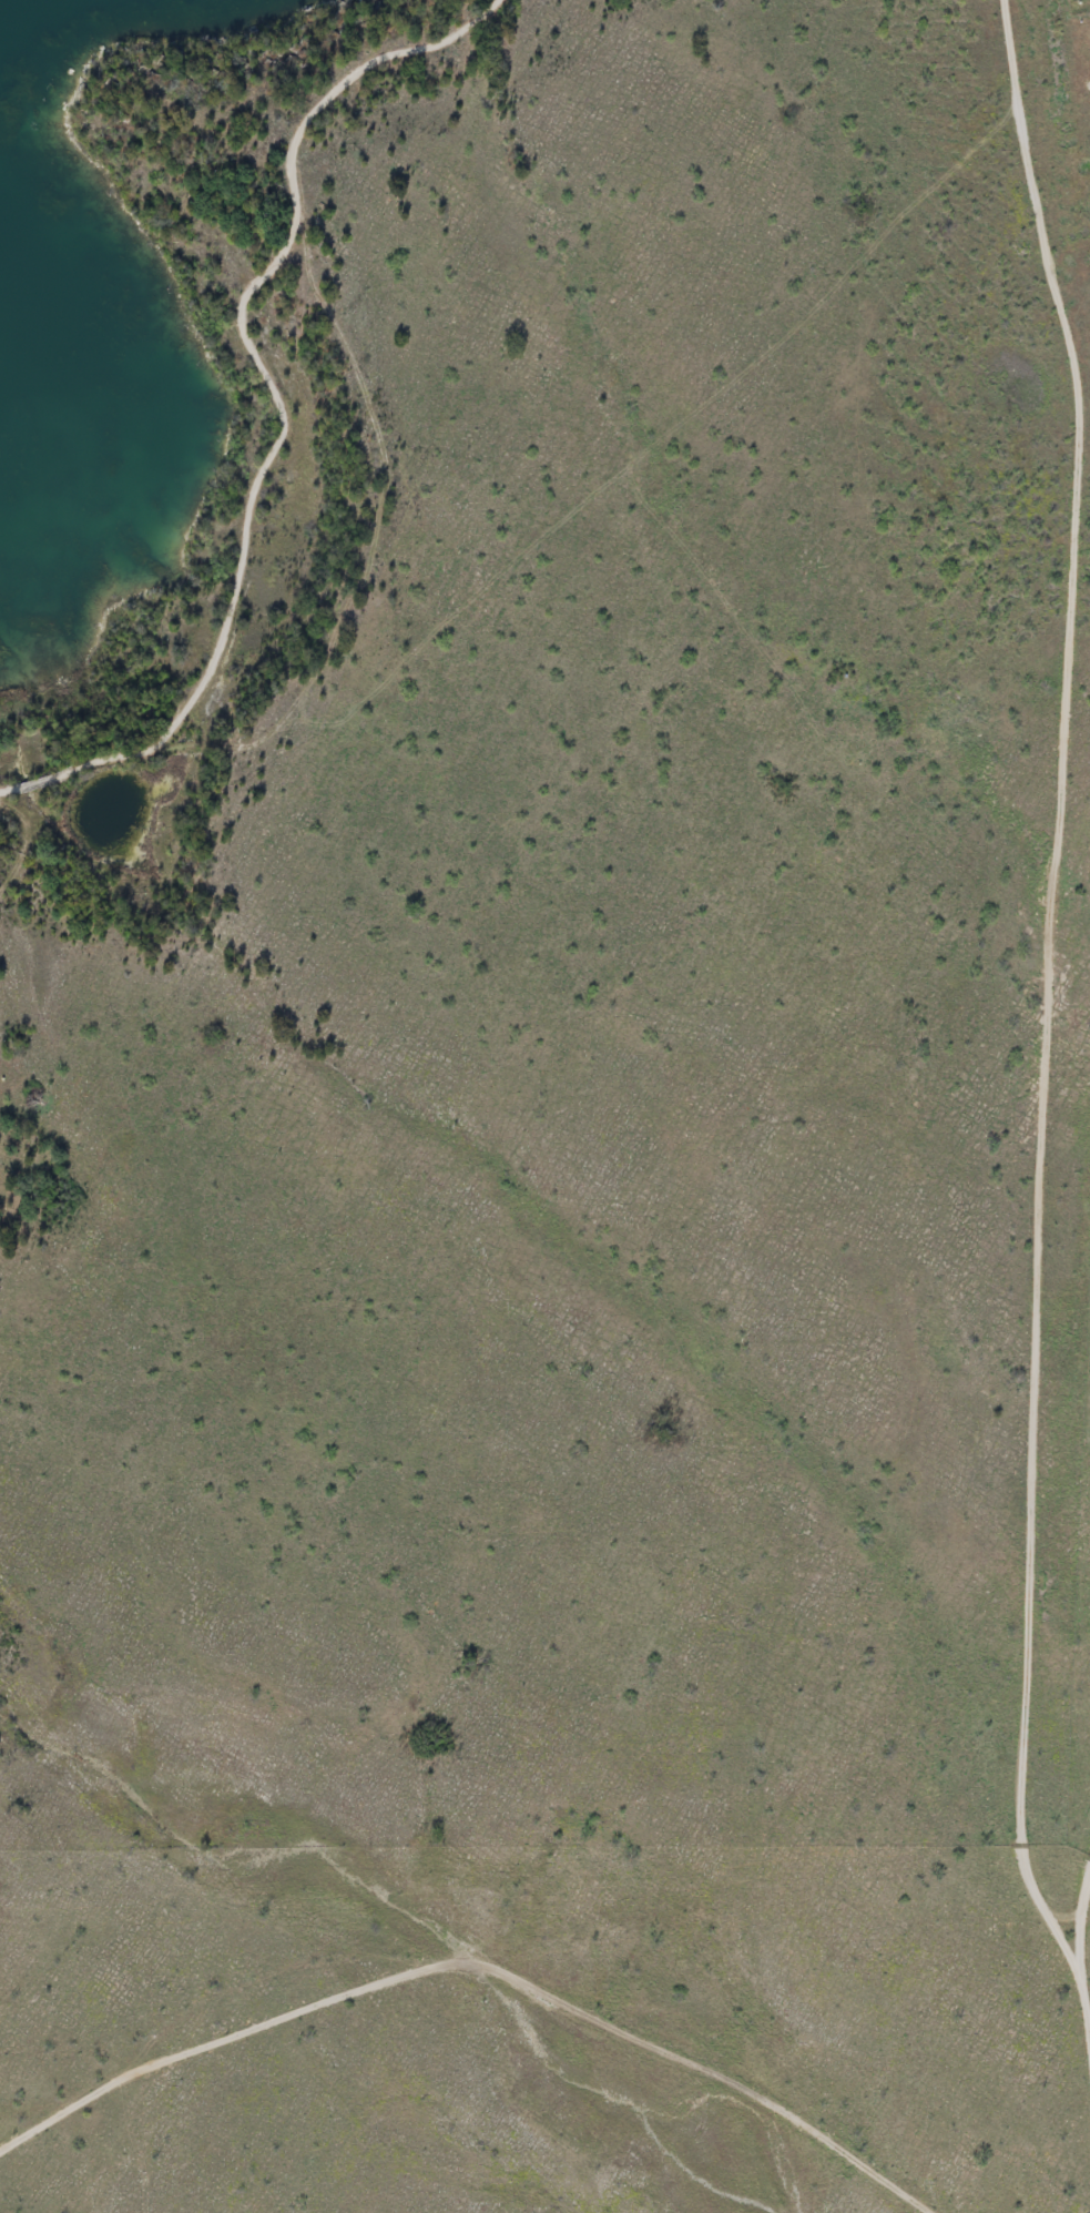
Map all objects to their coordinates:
road: (272, 399)

